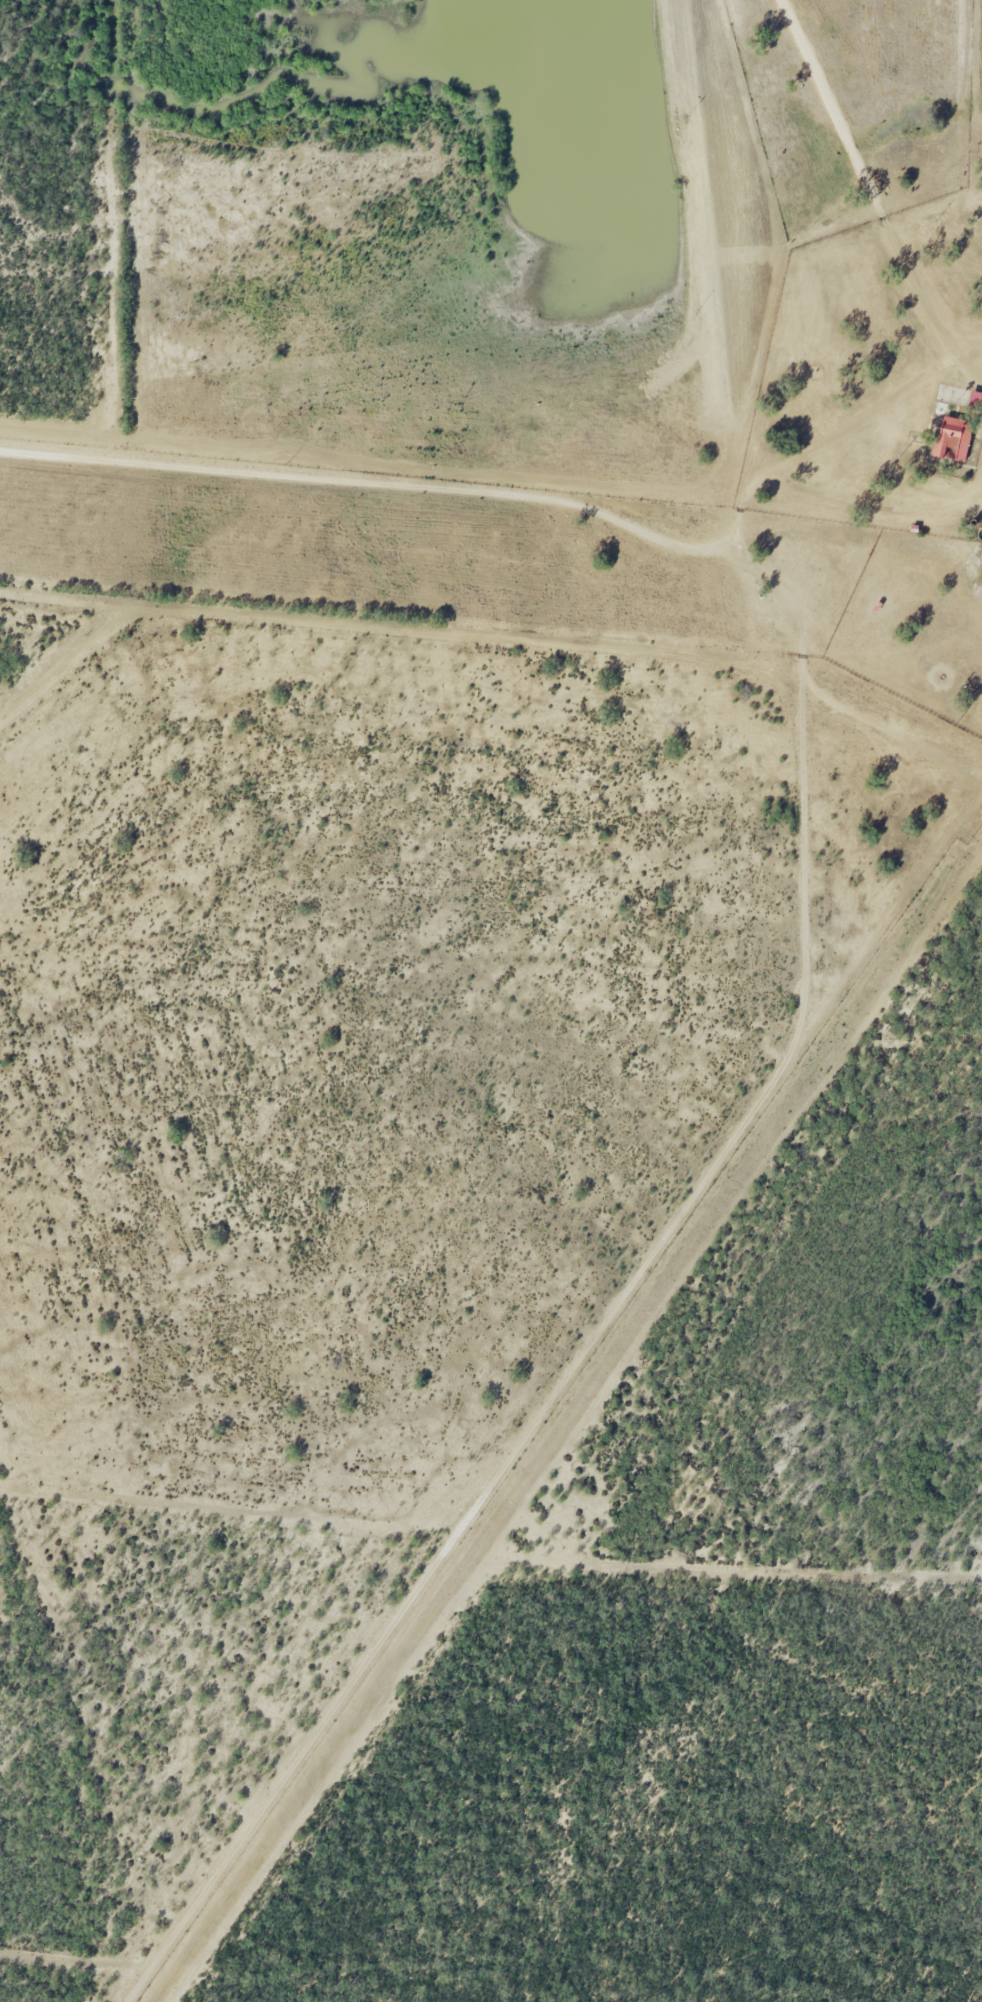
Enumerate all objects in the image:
road: (874, 193)
building: (952, 437)
road: (522, 494)

